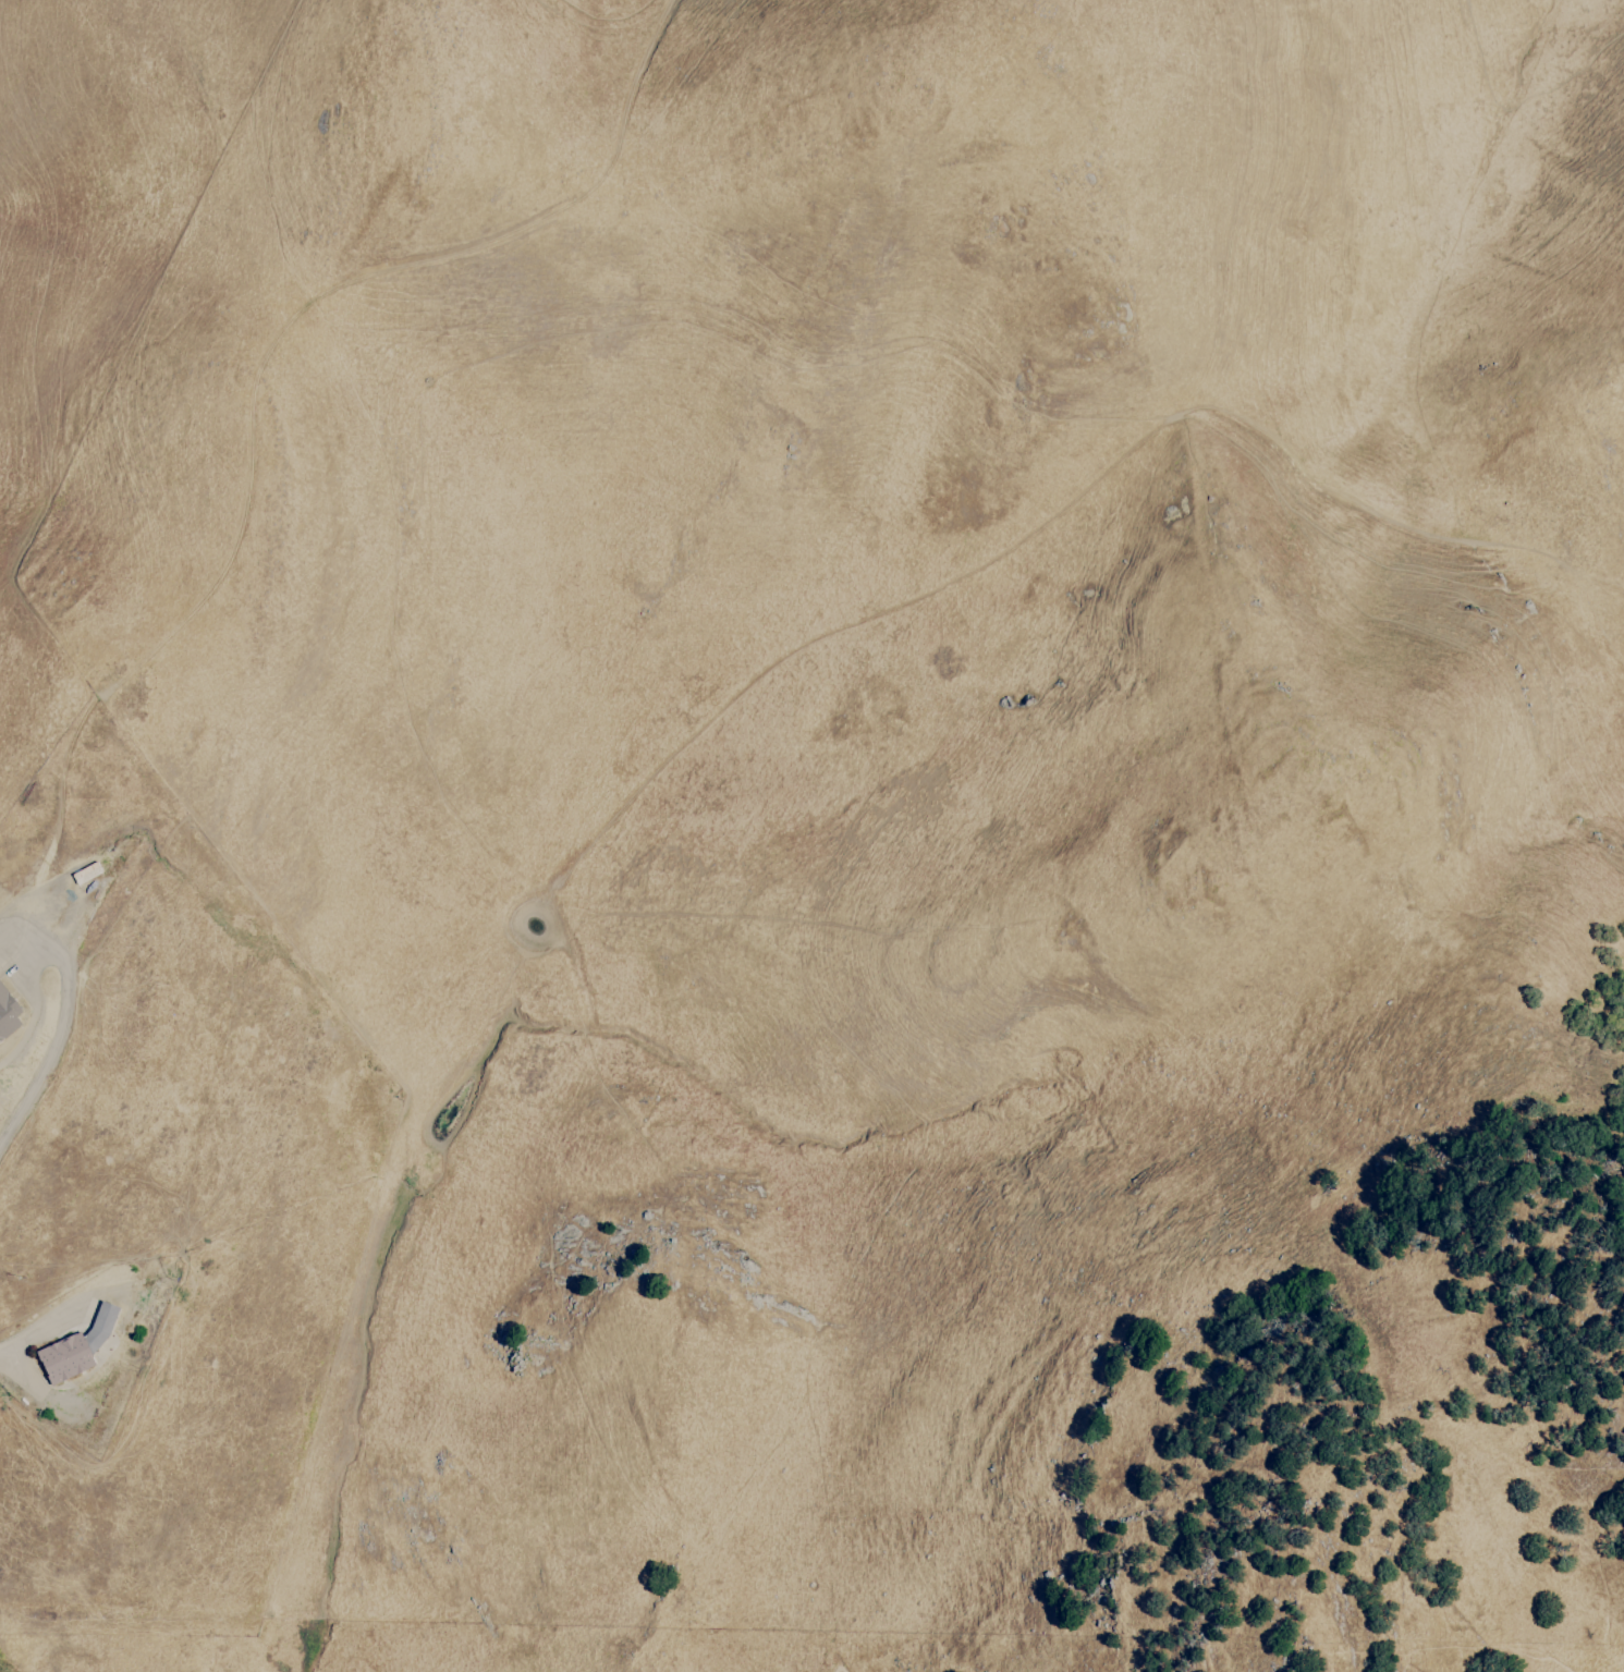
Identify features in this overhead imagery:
building: (10, 1014)
road: (35, 1053)
building: (80, 1353)

